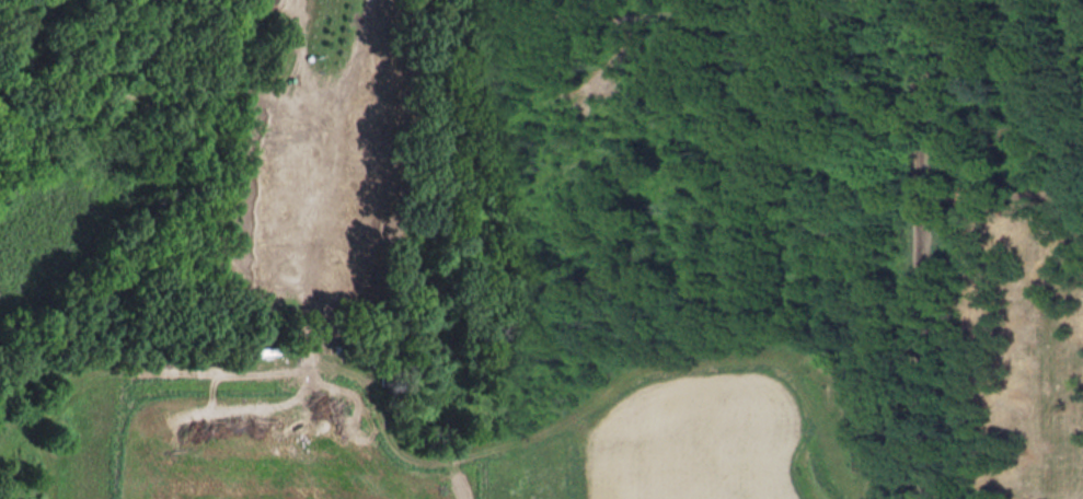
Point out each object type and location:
road: (922, 249)

